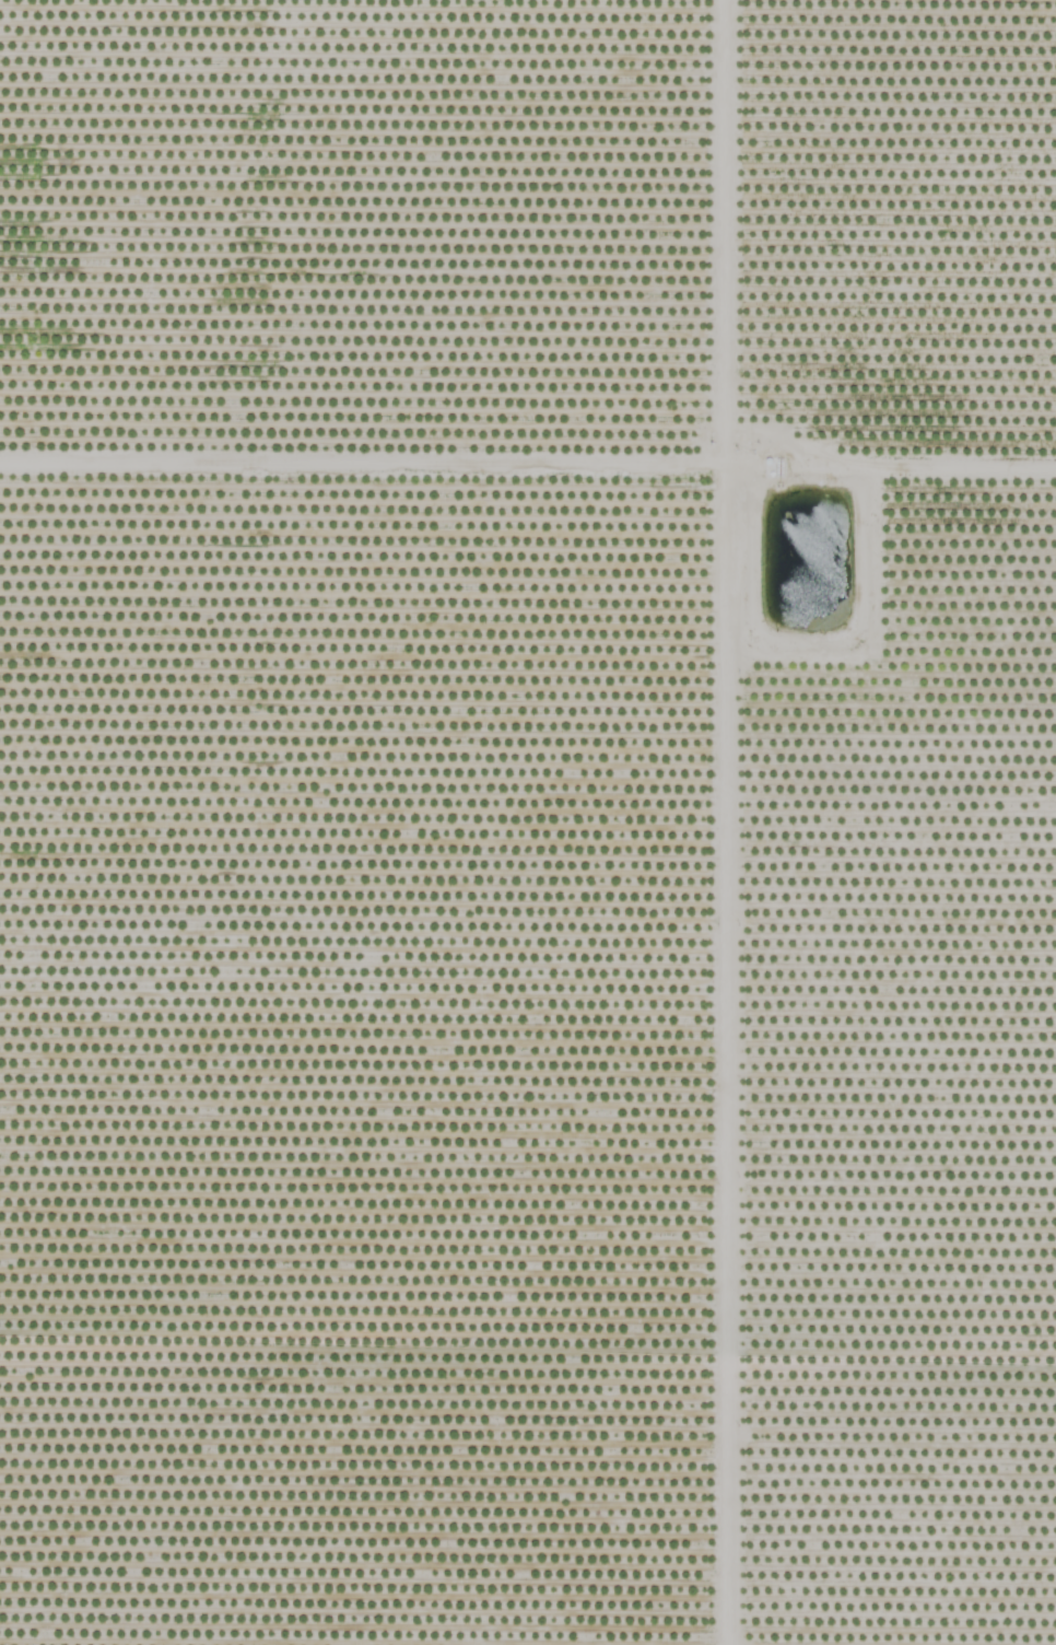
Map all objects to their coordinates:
crop: (528, 822)
road: (702, 822)

